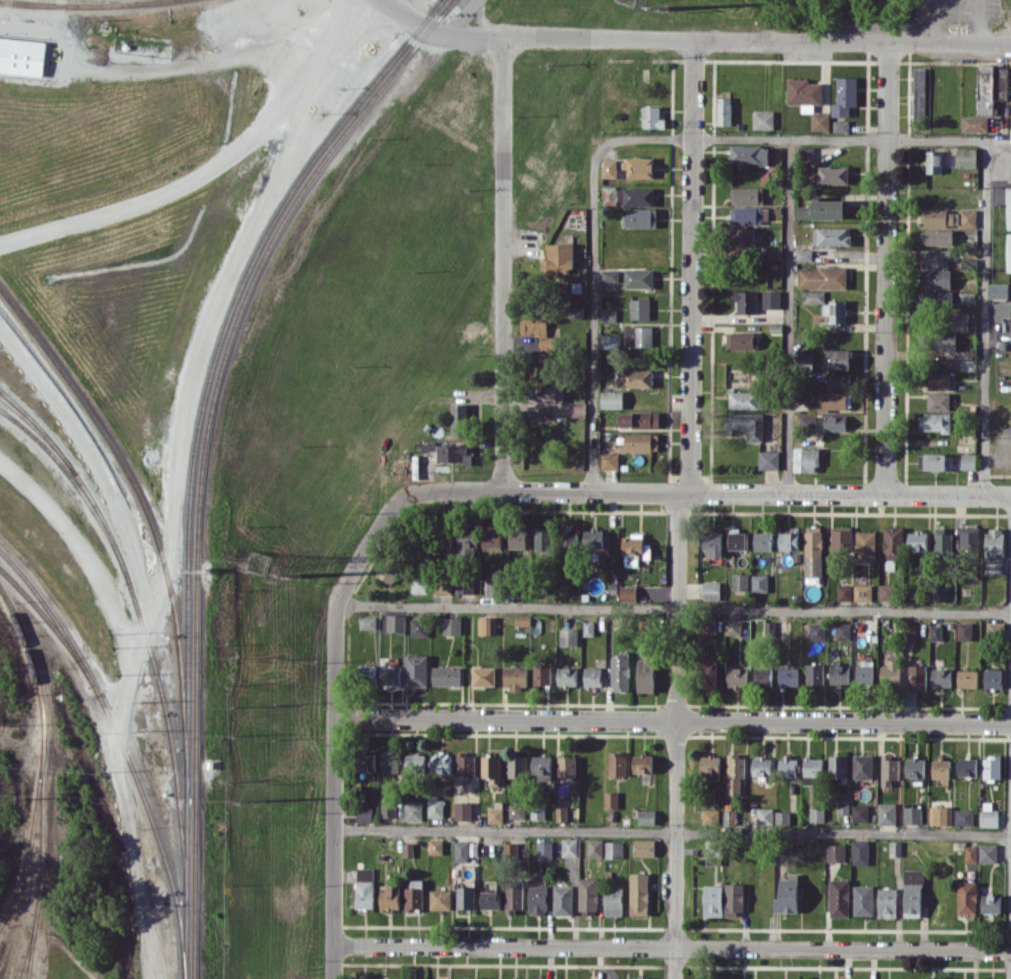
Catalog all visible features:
power tower: (666, 6)
railway: (91, 7)
road: (460, 17)
road: (481, 19)
road: (934, 23)
road: (981, 23)
road: (447, 35)
road: (763, 43)
building: (22, 56)
road: (213, 60)
building: (991, 86)
building: (919, 93)
building: (844, 96)
building: (724, 110)
building: (652, 117)
building: (763, 119)
building: (820, 121)
building: (974, 123)
building: (840, 125)
road: (793, 137)
road: (998, 152)
building: (749, 153)
building: (805, 153)
building: (966, 157)
building: (933, 161)
road: (215, 164)
building: (609, 167)
building: (637, 167)
building: (833, 174)
building: (635, 195)
building: (746, 195)
building: (823, 209)
building: (749, 214)
building: (639, 217)
building: (941, 217)
building: (968, 217)
building: (1009, 230)
building: (832, 235)
building: (746, 236)
building: (936, 236)
building: (774, 253)
building: (803, 254)
building: (558, 258)
building: (934, 258)
road: (509, 265)
road: (691, 266)
road: (885, 269)
building: (609, 275)
building: (638, 277)
building: (822, 277)
building: (937, 278)
road: (220, 289)
building: (1000, 290)
building: (813, 296)
building: (966, 296)
building: (935, 298)
building: (771, 299)
building: (745, 301)
building: (640, 308)
building: (1002, 310)
building: (835, 311)
road: (592, 313)
building: (609, 314)
road: (785, 314)
road: (984, 317)
building: (960, 321)
building: (539, 332)
building: (638, 336)
building: (742, 340)
building: (609, 341)
building: (943, 341)
building: (837, 359)
building: (803, 360)
building: (635, 378)
building: (838, 381)
building: (938, 381)
building: (545, 395)
building: (612, 399)
building: (746, 399)
building: (832, 400)
building: (938, 401)
building: (577, 409)
building: (459, 418)
building: (639, 419)
building: (934, 421)
building: (835, 422)
building: (804, 423)
building: (747, 424)
railway: (40, 430)
building: (641, 441)
railway: (192, 453)
railway: (203, 453)
building: (453, 453)
building: (768, 459)
building: (805, 459)
building: (609, 460)
building: (932, 461)
building: (968, 461)
railway: (78, 476)
road: (100, 477)
railway: (77, 485)
road: (757, 491)
railway: (150, 522)
building: (969, 537)
building: (492, 538)
building: (517, 538)
building: (543, 538)
building: (593, 538)
building: (737, 539)
building: (788, 539)
building: (569, 540)
building: (841, 540)
building: (917, 540)
building: (762, 541)
building: (942, 541)
building: (467, 542)
building: (712, 543)
building: (893, 545)
building: (865, 546)
building: (635, 549)
building: (994, 549)
building: (813, 551)
power tower: (257, 565)
building: (389, 569)
power tower: (297, 573)
building: (740, 581)
building: (419, 582)
building: (760, 582)
building: (464, 584)
building: (572, 585)
building: (491, 586)
building: (711, 590)
building: (887, 591)
building: (628, 592)
building: (844, 592)
building: (863, 592)
building: (937, 592)
road: (673, 604)
railway: (51, 614)
building: (522, 619)
building: (367, 622)
building: (607, 622)
building: (395, 623)
building: (452, 625)
building: (486, 625)
building: (708, 625)
building: (733, 626)
building: (419, 627)
building: (761, 627)
building: (588, 628)
building: (995, 628)
building: (816, 630)
building: (843, 630)
building: (909, 630)
building: (964, 630)
building: (935, 632)
building: (568, 636)
building: (416, 670)
building: (709, 670)
building: (366, 672)
building: (864, 672)
building: (890, 672)
building: (620, 673)
building: (814, 673)
building: (542, 674)
building: (645, 674)
building: (838, 674)
building: (390, 675)
building: (445, 675)
building: (567, 675)
building: (917, 675)
road: (336, 676)
building: (483, 676)
building: (514, 676)
building: (592, 676)
building: (737, 676)
building: (762, 676)
building: (788, 676)
building: (941, 677)
building: (967, 678)
building: (992, 678)
road: (124, 700)
road: (674, 719)
road: (674, 734)
road: (1010, 737)
railway: (171, 740)
railway: (125, 758)
building: (368, 761)
building: (390, 762)
building: (415, 762)
building: (440, 762)
building: (465, 763)
building: (616, 763)
building: (642, 763)
building: (516, 766)
building: (566, 766)
building: (787, 766)
building: (837, 766)
building: (862, 766)
building: (966, 766)
building: (541, 767)
building: (709, 767)
building: (761, 767)
building: (940, 767)
building: (991, 767)
building: (491, 768)
building: (914, 768)
building: (889, 769)
building: (812, 770)
building: (735, 772)
railway: (42, 779)
building: (611, 800)
building: (435, 806)
building: (843, 806)
building: (388, 809)
building: (462, 810)
building: (517, 810)
building: (537, 810)
building: (413, 811)
building: (860, 812)
building: (886, 813)
building: (363, 814)
building: (494, 814)
building: (560, 814)
building: (816, 814)
building: (912, 814)
building: (709, 815)
building: (940, 815)
building: (646, 816)
building: (729, 816)
building: (764, 817)
building: (782, 817)
building: (963, 817)
building: (989, 817)
road: (673, 831)
railway: (30, 834)
building: (435, 846)
building: (569, 846)
building: (595, 847)
building: (643, 847)
building: (510, 848)
building: (895, 848)
building: (408, 849)
building: (613, 849)
building: (465, 850)
building: (544, 850)
building: (860, 851)
building: (715, 852)
building: (835, 852)
building: (987, 852)
building: (971, 853)
building: (365, 873)
building: (639, 893)
building: (364, 894)
building: (414, 894)
building: (787, 894)
building: (513, 895)
building: (588, 895)
building: (390, 896)
building: (465, 897)
building: (839, 897)
building: (966, 897)
building: (733, 898)
building: (440, 899)
building: (489, 899)
building: (538, 899)
building: (563, 899)
building: (863, 899)
building: (713, 900)
building: (613, 901)
building: (887, 902)
building: (990, 903)
railway: (28, 946)
road: (673, 947)
building: (538, 978)
building: (639, 978)
building: (829, 978)

